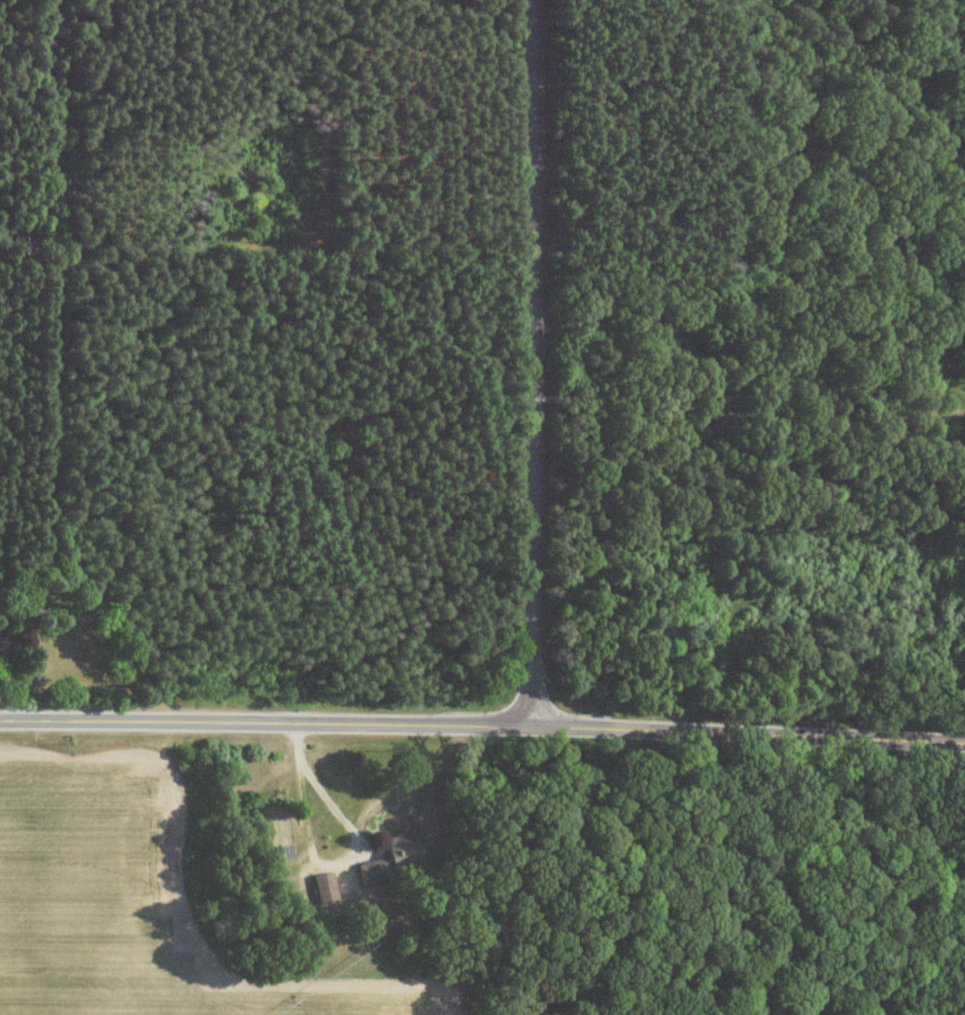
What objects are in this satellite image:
road: (531, 362)
parking lot: (954, 412)
road: (730, 420)
road: (482, 724)
building: (393, 860)
road: (319, 862)
building: (325, 889)

